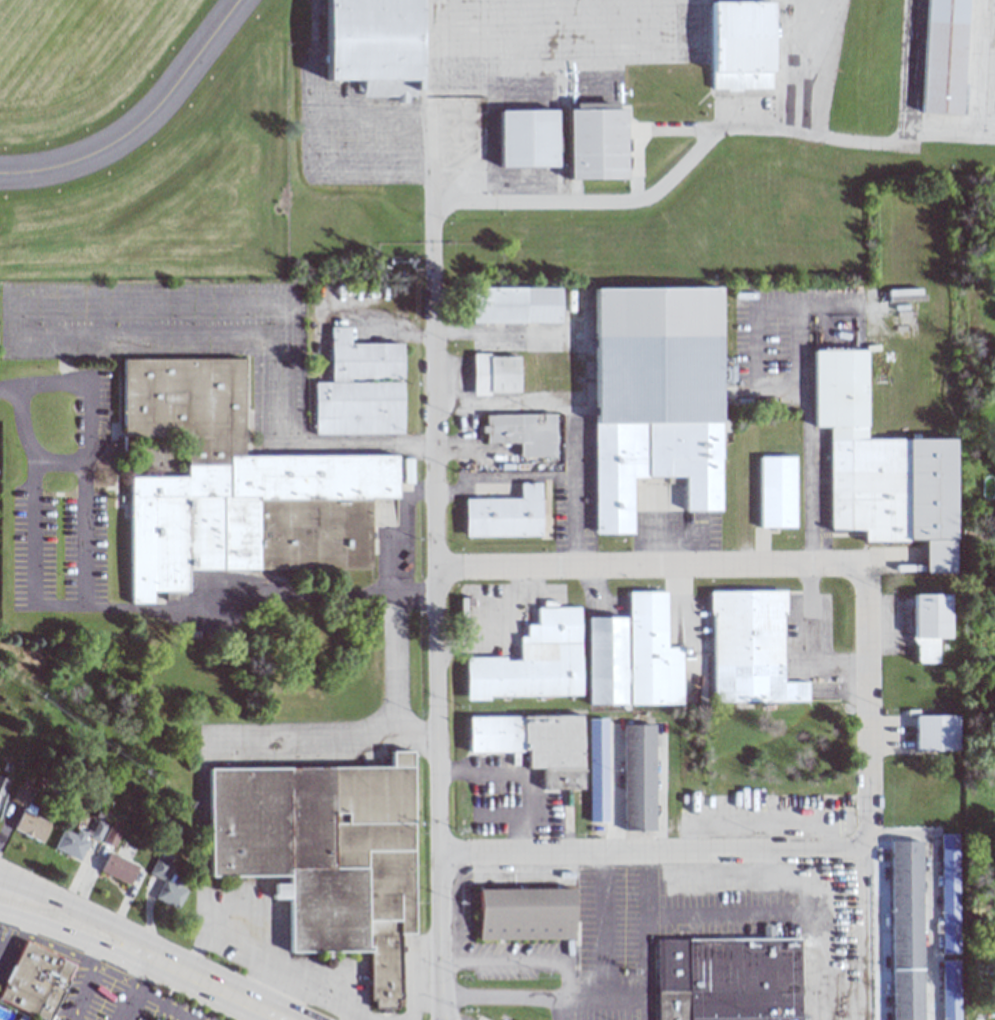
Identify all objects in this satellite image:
airport hangar: (372, 45)
building: (372, 45)
airport hangar: (737, 46)
building: (737, 46)
airport apron: (548, 49)
airport hangar: (940, 58)
building: (940, 58)
airport taxiway: (141, 120)
airport: (476, 130)
building: (524, 139)
building: (592, 145)
road: (666, 182)
building: (904, 295)
building: (511, 304)
road: (829, 307)
road: (802, 346)
building: (489, 374)
road: (9, 385)
building: (355, 388)
building: (649, 396)
building: (739, 401)
building: (518, 432)
road: (61, 460)
building: (878, 468)
building: (403, 471)
road: (515, 473)
building: (231, 486)
building: (772, 492)
road: (571, 496)
building: (500, 515)
road: (398, 531)
road: (649, 567)
road: (86, 595)
road: (260, 595)
building: (925, 625)
road: (810, 641)
building: (745, 648)
building: (632, 655)
road: (390, 661)
building: (527, 662)
road: (436, 673)
road: (864, 706)
building: (931, 733)
road: (210, 740)
building: (530, 746)
building: (592, 771)
road: (520, 772)
building: (633, 779)
building: (1, 784)
building: (24, 818)
building: (107, 837)
building: (75, 840)
road: (650, 853)
building: (321, 854)
building: (162, 856)
building: (114, 870)
building: (155, 870)
road: (42, 892)
building: (946, 892)
building: (166, 894)
road: (42, 900)
building: (521, 912)
building: (902, 929)
road: (601, 930)
road: (18, 937)
road: (54, 948)
road: (91, 954)
road: (144, 956)
road: (502, 959)
road: (124, 961)
road: (196, 966)
road: (281, 974)
building: (724, 978)
building: (32, 980)
road: (567, 984)
road: (412, 986)
building: (946, 989)
road: (80, 990)
road: (281, 991)
road: (499, 995)
road: (152, 999)
road: (125, 1004)
road: (607, 1005)
road: (274, 1013)
road: (559, 1014)
road: (354, 1016)
road: (437, 1017)
building: (497, 1017)
building: (18, 1018)
building: (150, 1019)

